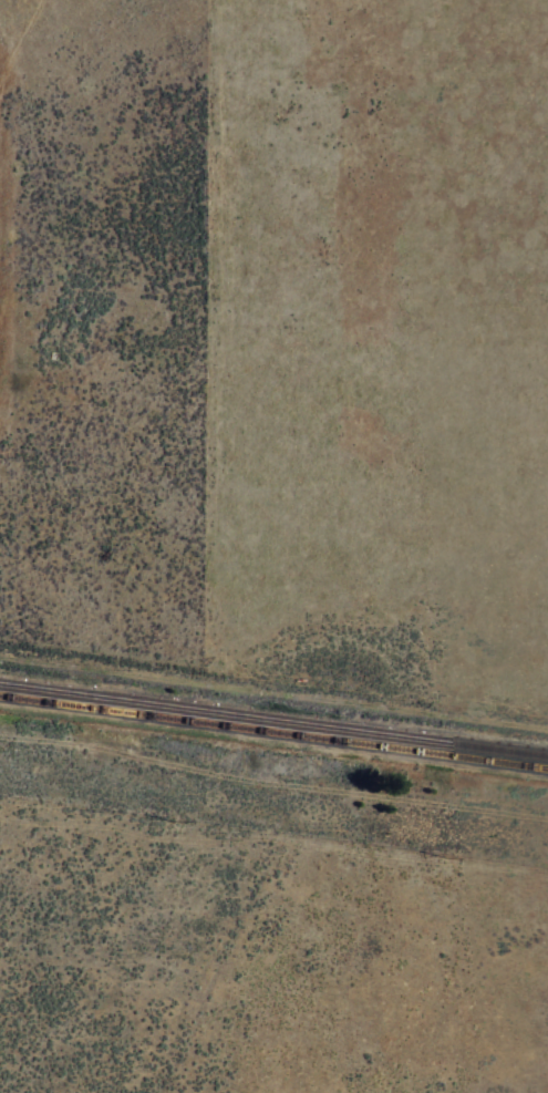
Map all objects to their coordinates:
railway: (273, 719)
railway: (273, 730)
crop: (265, 914)

